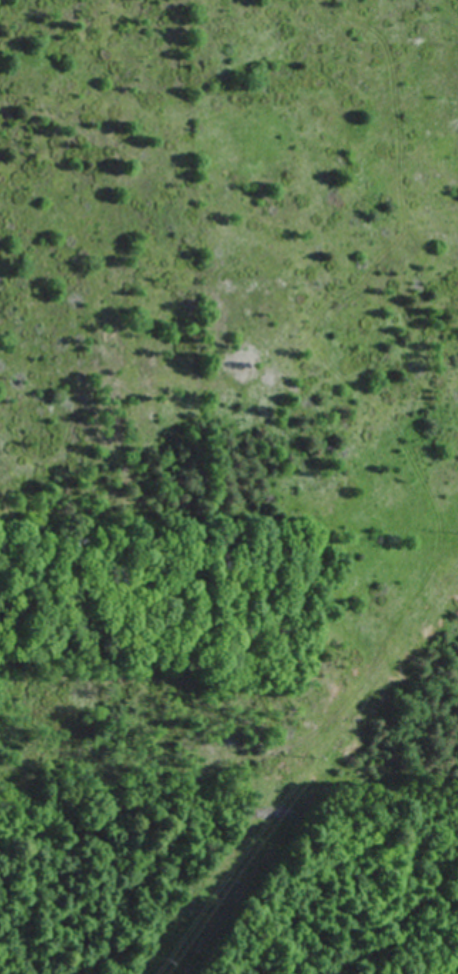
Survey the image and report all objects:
power tower: (313, 757)
power tower: (165, 966)

